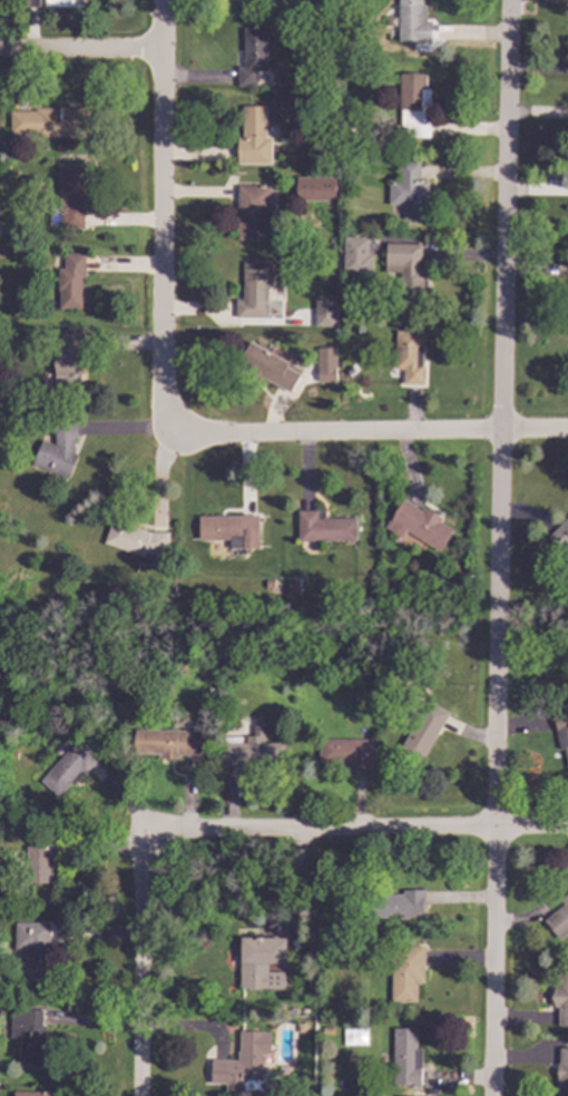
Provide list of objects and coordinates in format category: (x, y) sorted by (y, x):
building: (254, 0)
building: (29, 3)
building: (63, 3)
building: (413, 22)
road: (98, 50)
building: (252, 57)
building: (413, 105)
building: (350, 110)
building: (319, 116)
building: (49, 123)
building: (349, 127)
building: (253, 137)
building: (0, 140)
building: (347, 155)
building: (314, 189)
building: (409, 190)
building: (72, 195)
building: (251, 211)
road: (159, 218)
building: (277, 239)
building: (351, 239)
building: (1, 253)
building: (407, 273)
building: (70, 278)
building: (253, 292)
building: (324, 320)
building: (259, 339)
building: (410, 356)
building: (567, 364)
building: (67, 365)
building: (324, 365)
building: (268, 368)
road: (366, 429)
building: (58, 448)
building: (417, 526)
building: (325, 528)
building: (231, 530)
building: (560, 536)
building: (136, 540)
road: (498, 548)
building: (386, 583)
building: (270, 585)
building: (422, 730)
building: (562, 734)
building: (167, 741)
building: (252, 751)
building: (346, 753)
building: (75, 762)
road: (361, 825)
building: (40, 862)
building: (390, 897)
building: (559, 919)
building: (33, 946)
road: (154, 955)
building: (262, 961)
building: (404, 975)
building: (560, 997)
building: (27, 1035)
building: (244, 1057)
building: (405, 1057)
building: (561, 1073)
building: (32, 1093)

